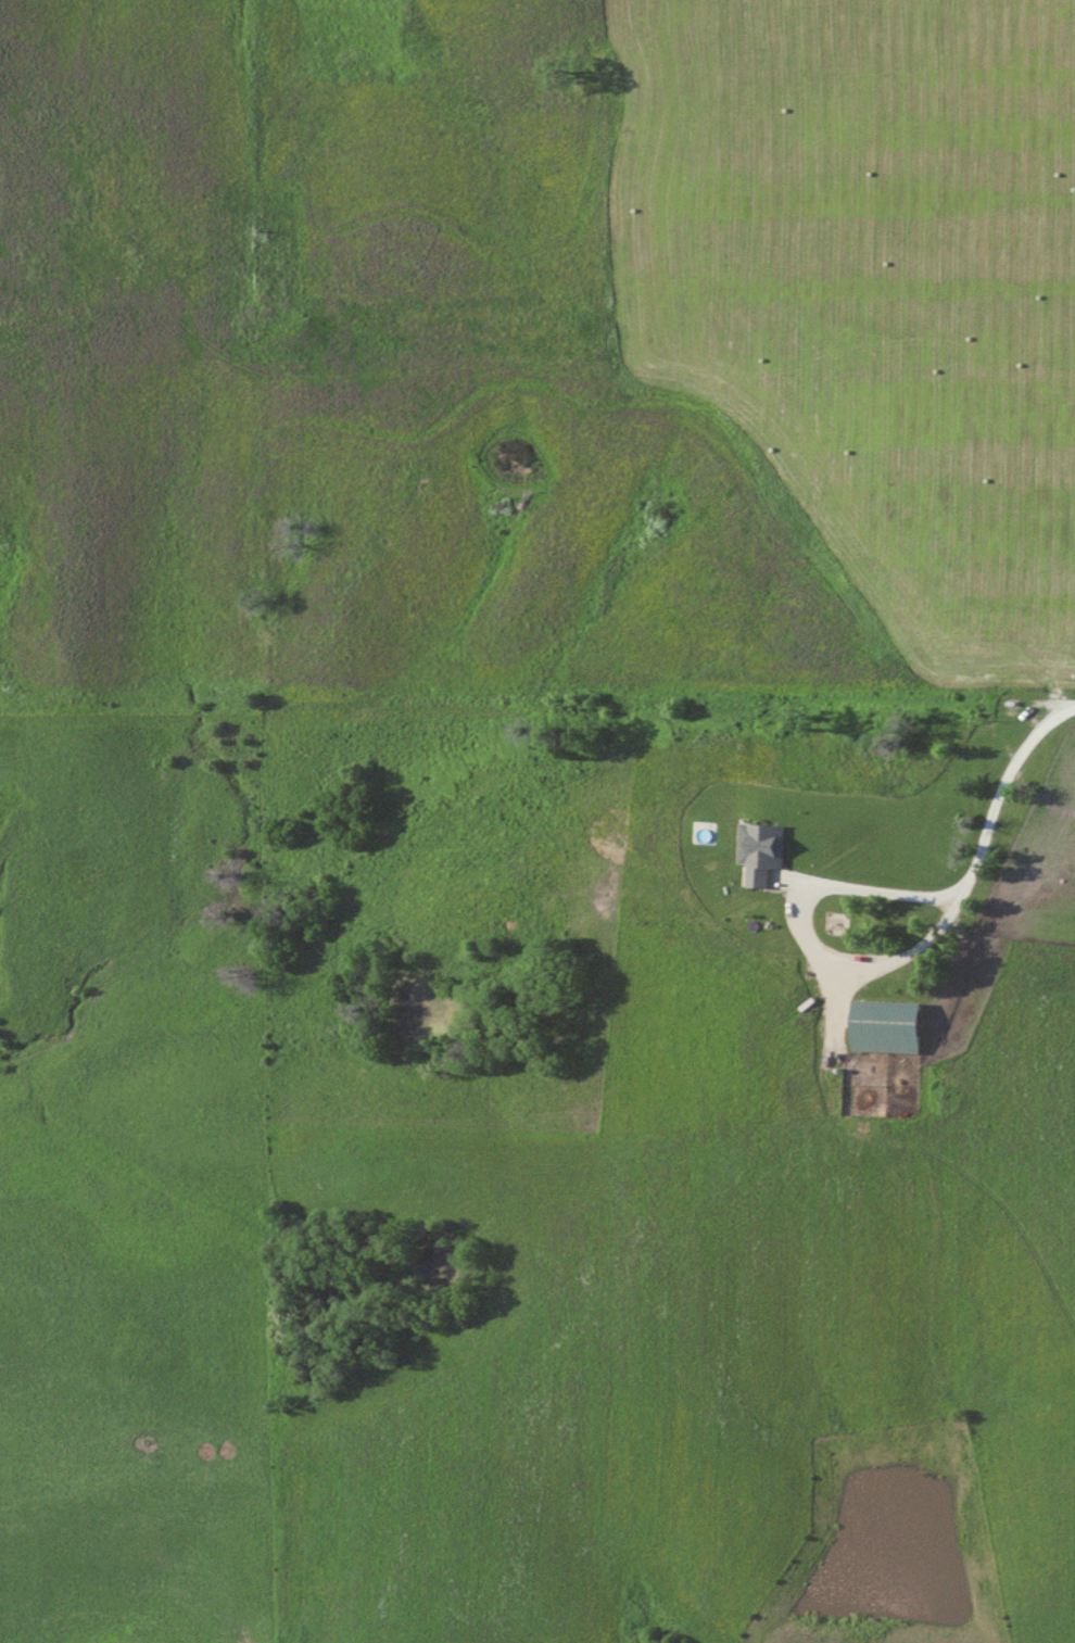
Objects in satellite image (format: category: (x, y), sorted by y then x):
road: (997, 792)
building: (890, 1023)

